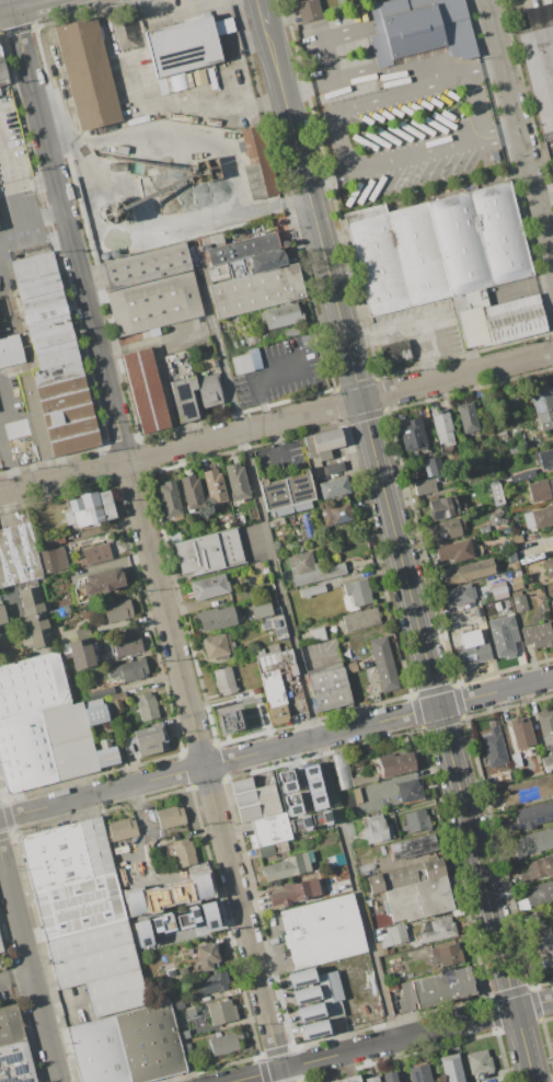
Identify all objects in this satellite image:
road: (10, 4)
road: (23, 7)
building: (307, 10)
road: (178, 11)
road: (263, 12)
building: (420, 28)
building: (123, 31)
road: (321, 38)
building: (181, 45)
road: (145, 50)
building: (539, 61)
building: (88, 73)
building: (2, 74)
road: (347, 80)
road: (221, 110)
parking lot: (392, 117)
road: (519, 128)
road: (344, 140)
building: (256, 164)
road: (23, 177)
road: (545, 199)
road: (36, 214)
parking lot: (19, 228)
road: (5, 231)
building: (446, 261)
building: (143, 266)
building: (249, 275)
road: (523, 284)
building: (42, 303)
road: (5, 304)
building: (152, 304)
building: (280, 314)
road: (412, 324)
parking lot: (425, 327)
building: (290, 331)
road: (438, 332)
road: (217, 339)
road: (148, 341)
building: (10, 350)
building: (395, 350)
road: (48, 358)
building: (245, 362)
building: (55, 366)
road: (457, 376)
road: (260, 378)
building: (208, 390)
building: (143, 391)
building: (183, 399)
building: (542, 407)
road: (300, 415)
building: (66, 416)
building: (465, 417)
building: (441, 427)
building: (15, 428)
building: (411, 435)
building: (321, 444)
building: (511, 450)
building: (545, 458)
road: (8, 459)
road: (119, 461)
building: (433, 465)
building: (332, 468)
building: (522, 475)
building: (235, 482)
building: (212, 485)
building: (423, 486)
building: (332, 487)
building: (540, 490)
building: (191, 492)
building: (286, 494)
building: (495, 494)
building: (169, 499)
building: (441, 507)
building: (90, 508)
building: (334, 514)
building: (538, 517)
building: (495, 518)
building: (443, 530)
building: (515, 539)
road: (149, 545)
building: (454, 551)
building: (208, 552)
road: (400, 553)
building: (93, 554)
building: (16, 555)
building: (51, 561)
building: (548, 566)
building: (310, 568)
building: (469, 572)
building: (54, 578)
building: (101, 582)
building: (515, 585)
building: (208, 587)
building: (497, 589)
building: (310, 590)
building: (356, 592)
building: (459, 594)
building: (519, 602)
building: (116, 610)
building: (260, 611)
building: (552, 611)
building: (2, 613)
building: (215, 618)
building: (33, 619)
building: (360, 620)
building: (552, 622)
building: (274, 624)
building: (316, 634)
building: (503, 635)
building: (537, 635)
building: (125, 644)
building: (216, 646)
building: (471, 648)
building: (80, 654)
building: (382, 665)
building: (349, 667)
building: (290, 669)
building: (126, 670)
building: (222, 681)
building: (32, 684)
building: (326, 688)
building: (103, 691)
building: (254, 691)
building: (274, 699)
building: (116, 702)
building: (145, 706)
building: (96, 713)
building: (229, 722)
building: (545, 727)
building: (520, 733)
building: (68, 740)
building: (145, 741)
road: (276, 747)
building: (493, 747)
building: (24, 752)
building: (105, 752)
road: (324, 756)
building: (515, 760)
building: (548, 761)
building: (394, 763)
building: (347, 773)
building: (285, 781)
building: (312, 786)
building: (407, 790)
building: (527, 791)
building: (253, 799)
building: (290, 804)
building: (529, 816)
building: (169, 817)
building: (319, 818)
building: (414, 820)
building: (299, 822)
building: (120, 829)
building: (377, 829)
road: (146, 833)
building: (268, 834)
building: (533, 842)
building: (96, 845)
building: (411, 847)
parking lot: (136, 848)
building: (182, 852)
building: (55, 856)
building: (334, 861)
building: (286, 867)
building: (537, 868)
building: (391, 879)
building: (200, 886)
building: (181, 893)
building: (293, 893)
building: (540, 894)
building: (419, 896)
building: (154, 899)
building: (133, 902)
building: (80, 905)
building: (207, 914)
building: (529, 917)
building: (186, 919)
building: (162, 923)
building: (437, 930)
building: (322, 931)
building: (141, 933)
building: (390, 939)
building: (543, 944)
building: (0, 949)
building: (0, 952)
building: (92, 954)
building: (446, 954)
building: (206, 956)
road: (30, 965)
building: (182, 971)
road: (15, 976)
building: (300, 977)
building: (210, 983)
building: (434, 990)
building: (331, 993)
building: (116, 994)
building: (304, 994)
road: (60, 1009)
building: (220, 1012)
building: (309, 1012)
building: (313, 1028)
road: (391, 1041)
building: (150, 1043)
building: (224, 1044)
building: (13, 1048)
building: (97, 1051)
building: (477, 1061)
building: (451, 1068)
building: (418, 1073)
building: (389, 1077)
building: (347, 1079)
building: (371, 1079)

